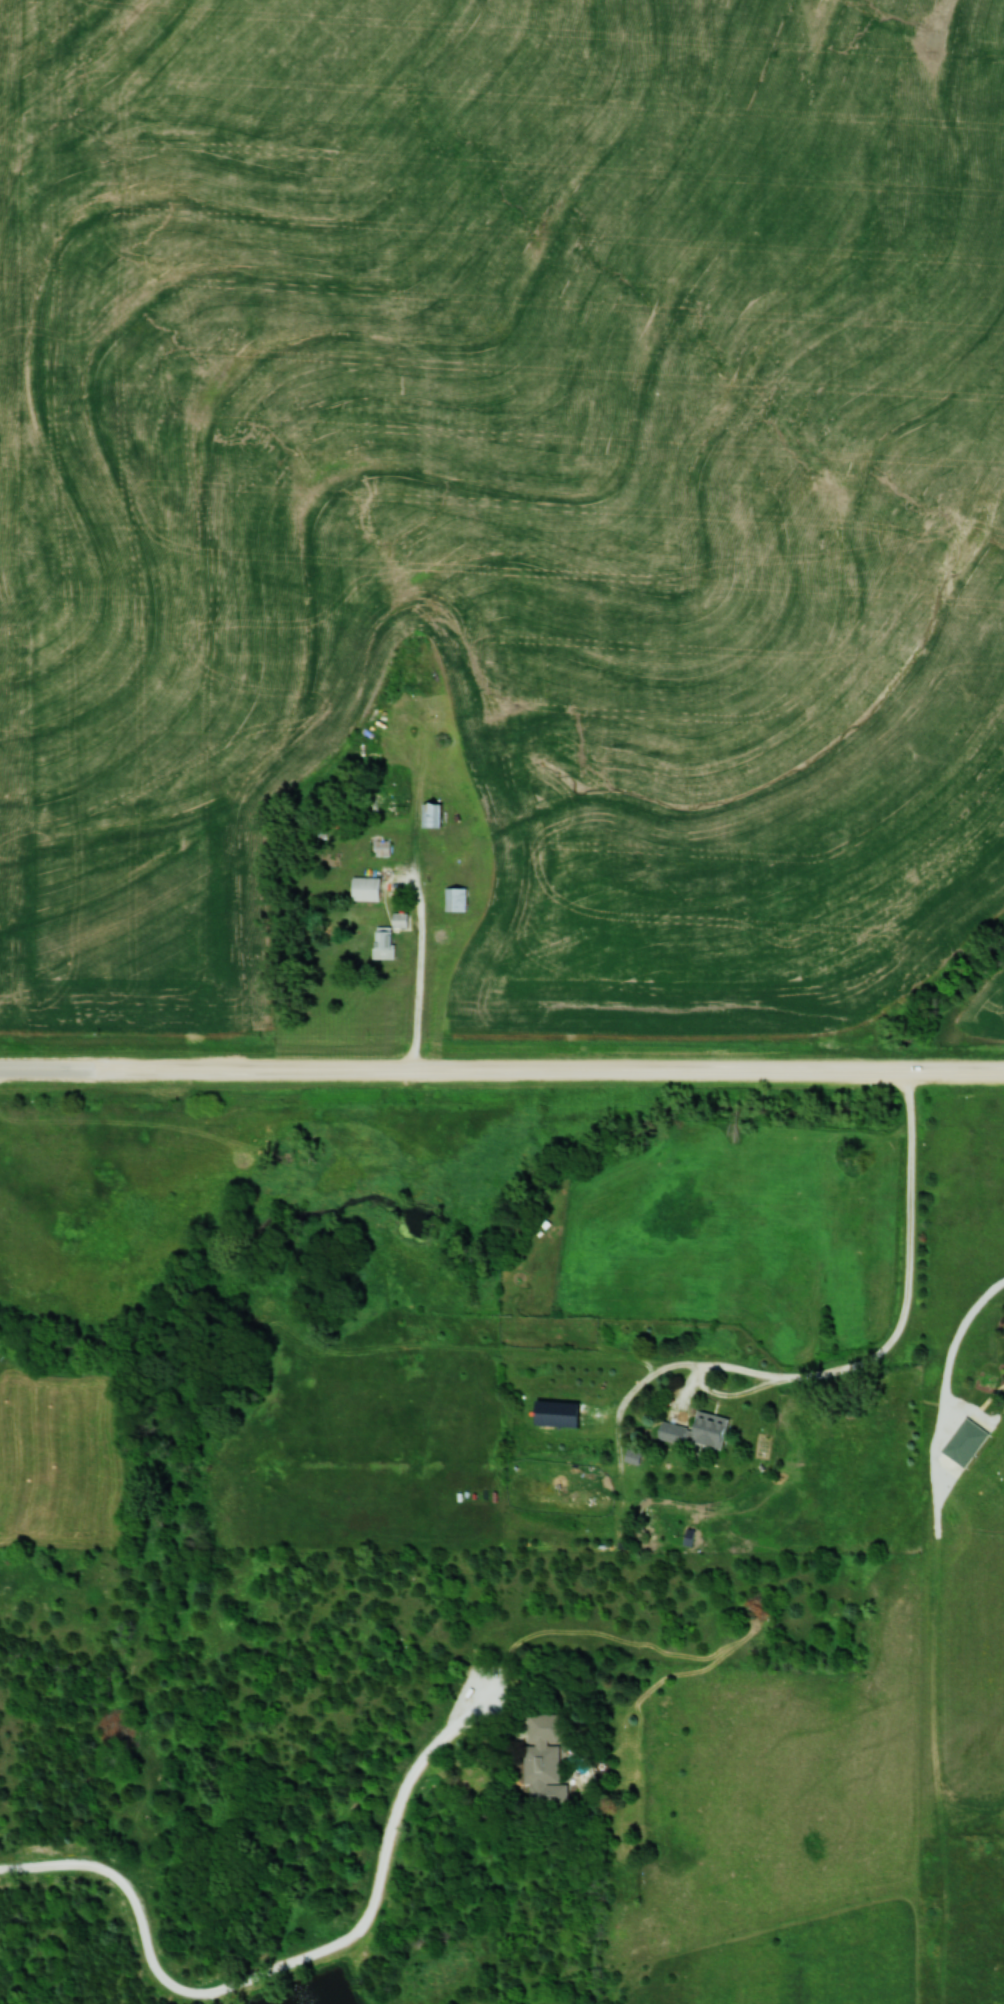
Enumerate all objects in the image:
crop: (505, 490)
building: (429, 815)
building: (380, 849)
building: (364, 889)
building: (454, 900)
building: (386, 937)
road: (420, 970)
crop: (984, 1010)
road: (45, 1067)
road: (546, 1069)
road: (877, 1355)
building: (548, 1411)
building: (696, 1430)
building: (545, 1756)
road: (275, 1969)

